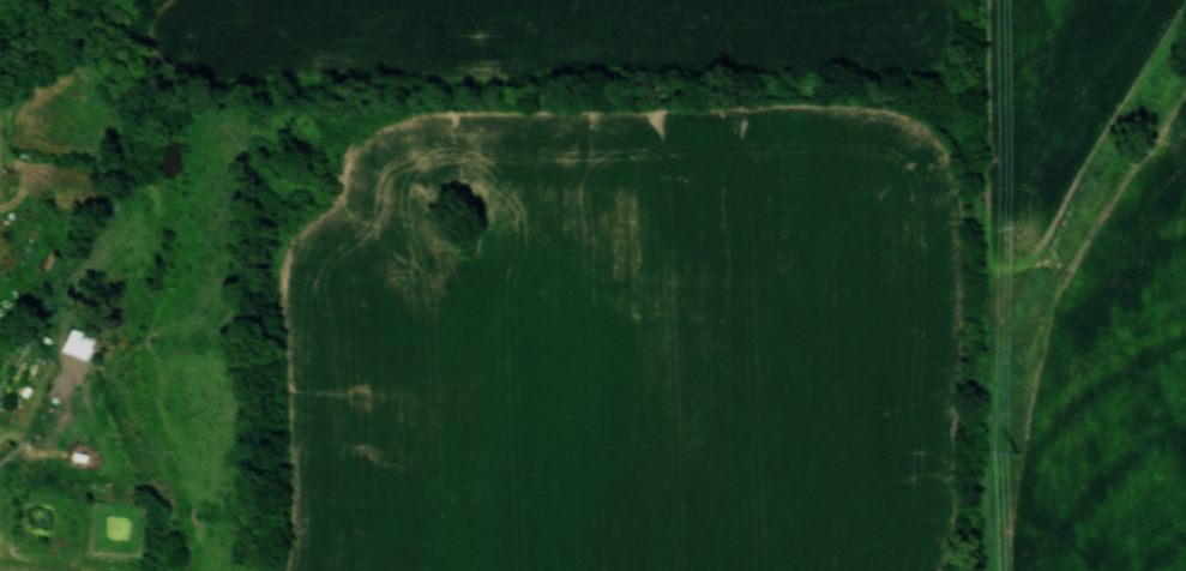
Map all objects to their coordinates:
building: (78, 348)
power tower: (1015, 452)

